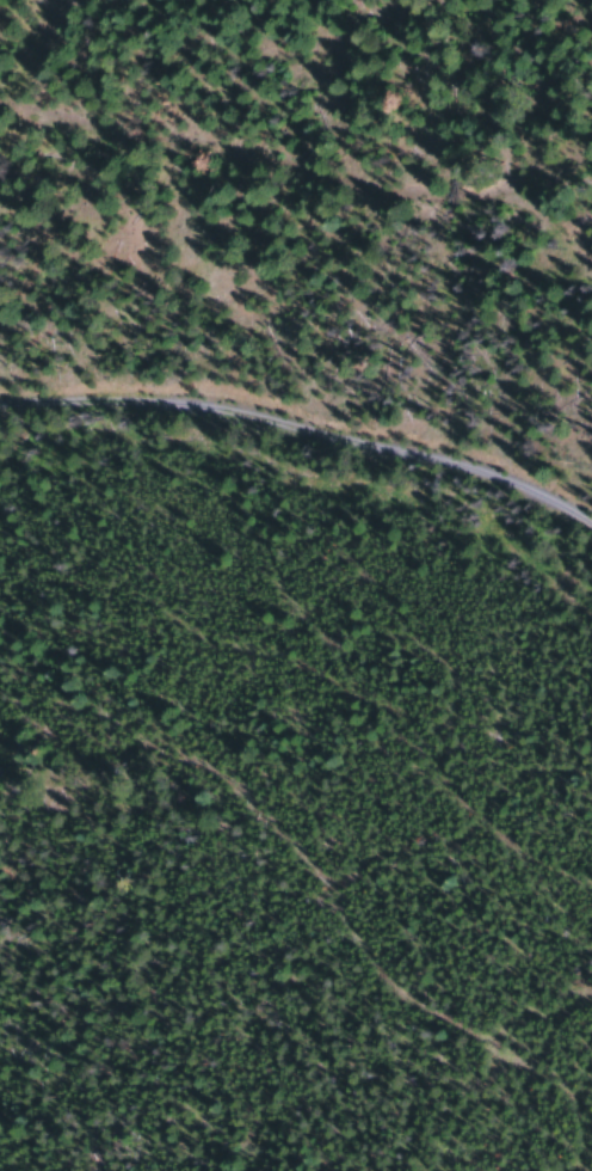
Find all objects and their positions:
road: (298, 220)
road: (307, 385)

